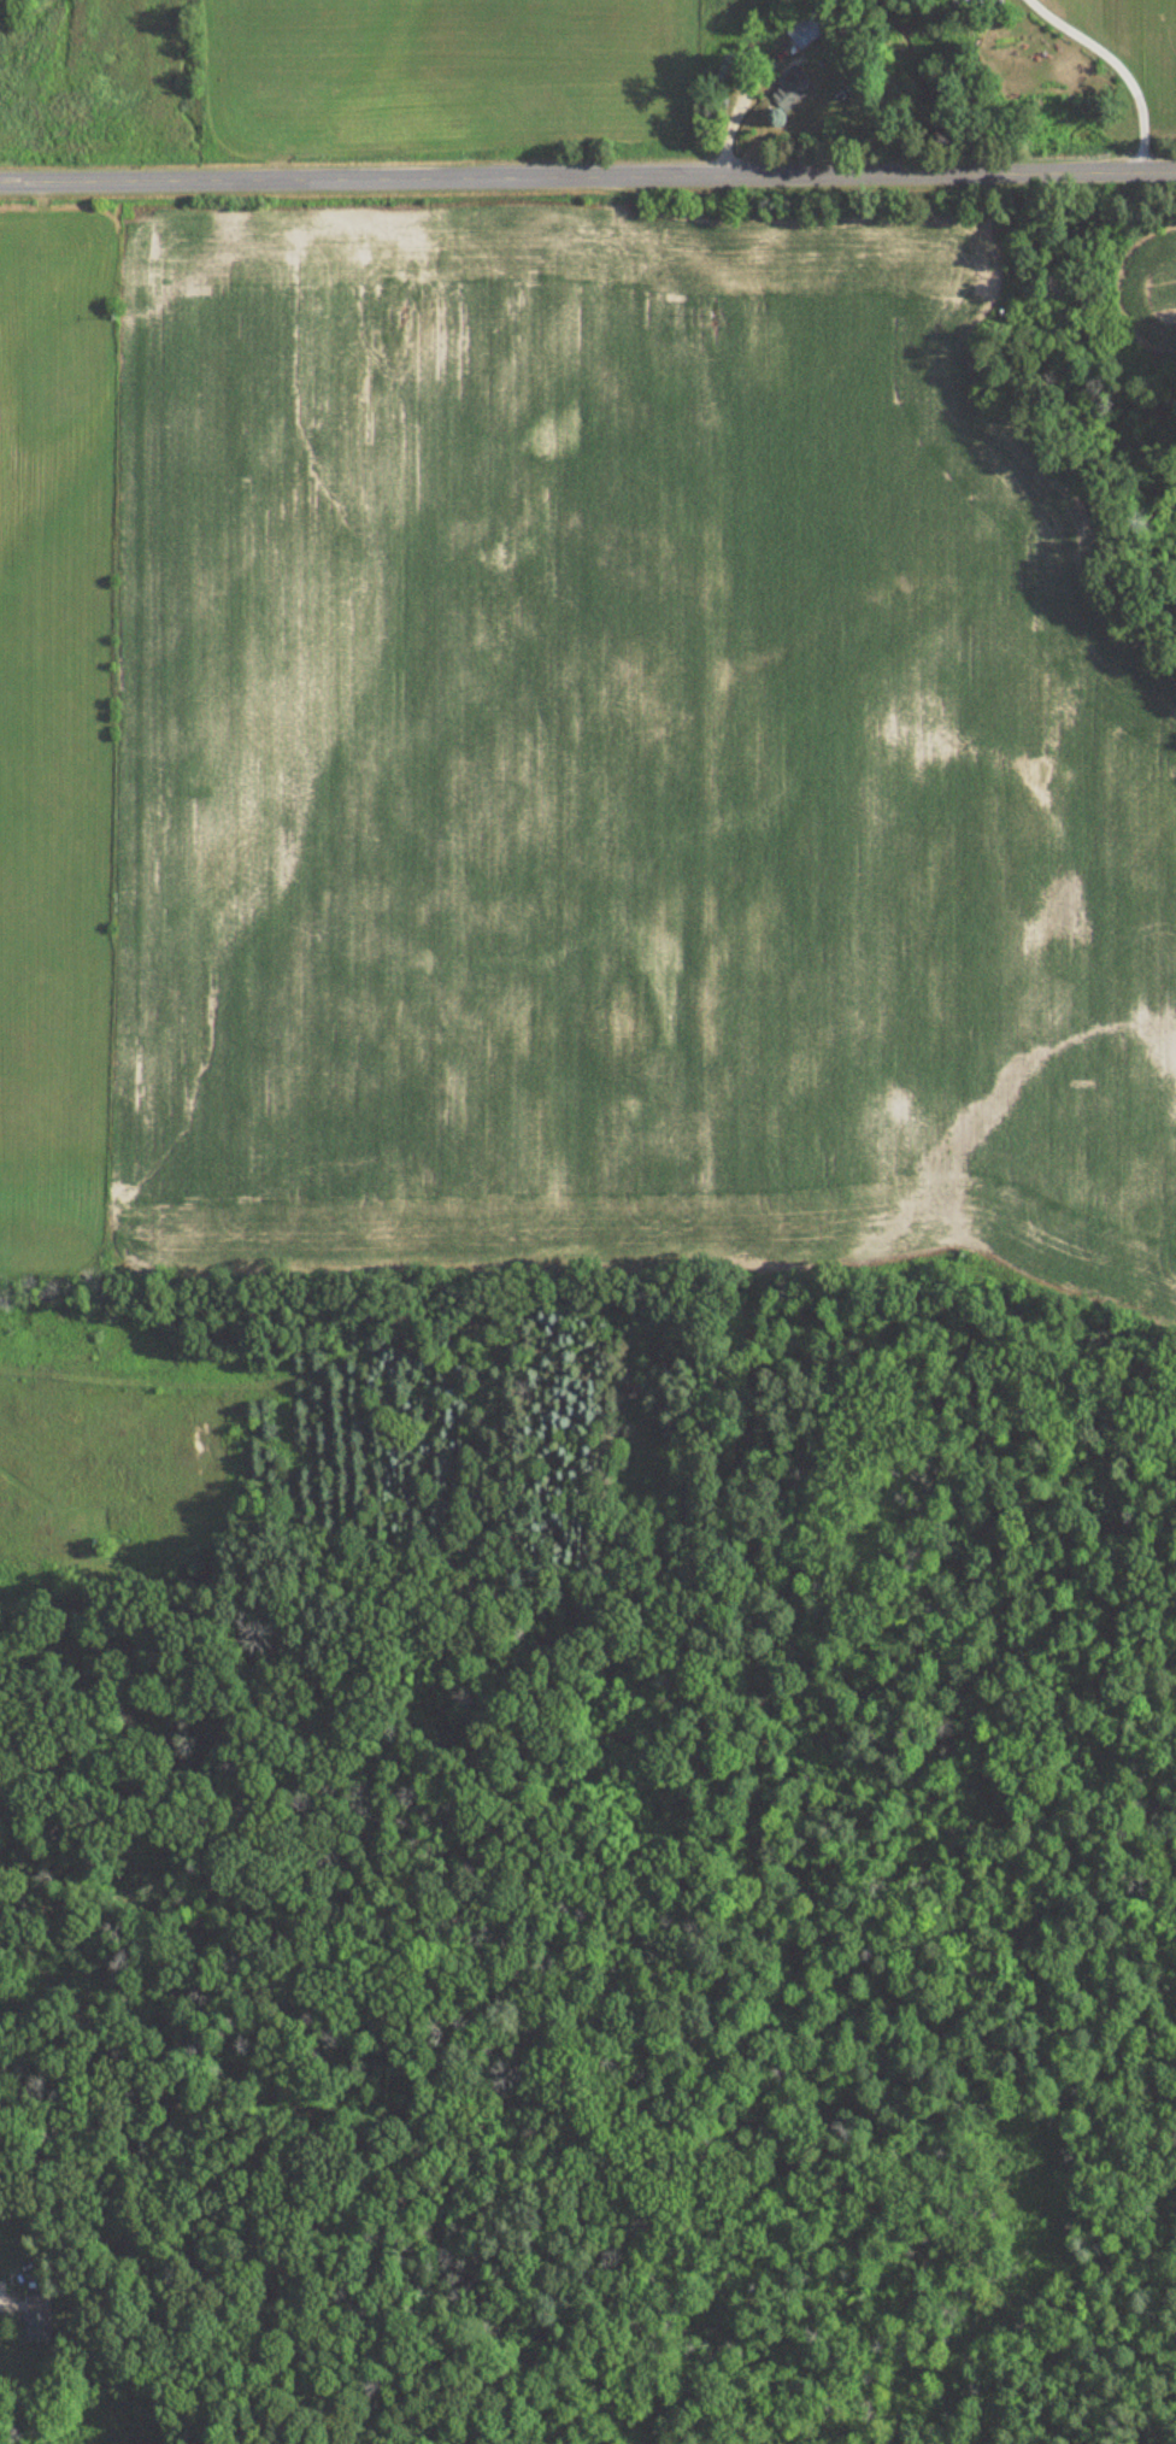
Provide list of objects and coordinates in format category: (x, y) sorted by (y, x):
building: (804, 29)
road: (1118, 65)
building: (789, 92)
road: (587, 175)
building: (41, 2319)

